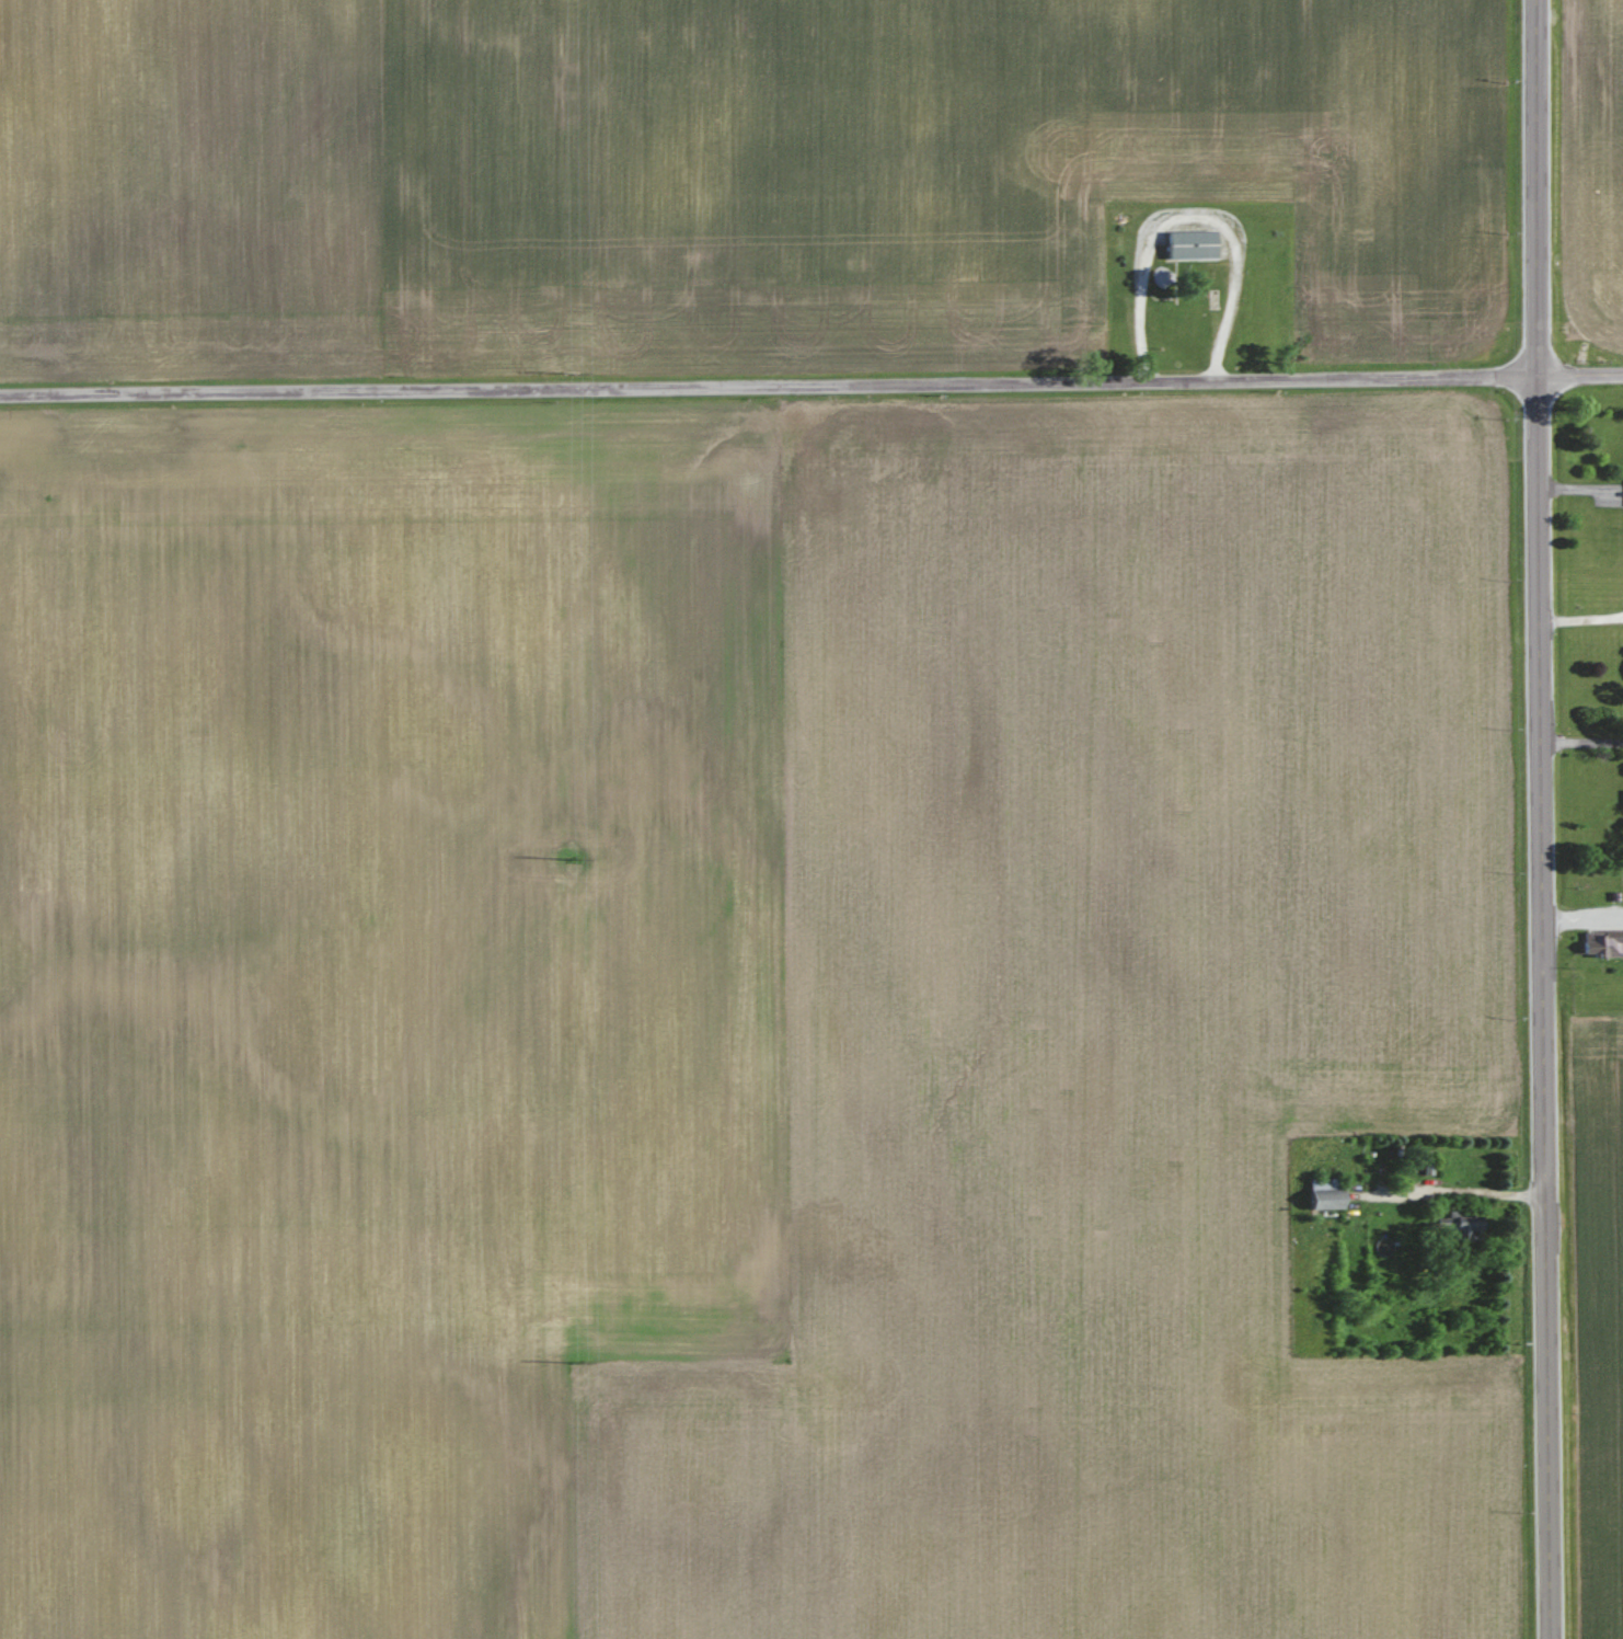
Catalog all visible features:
building: (1194, 244)
road: (811, 391)
road: (1539, 820)
building: (1604, 943)
building: (1328, 1194)
building: (1466, 1226)

